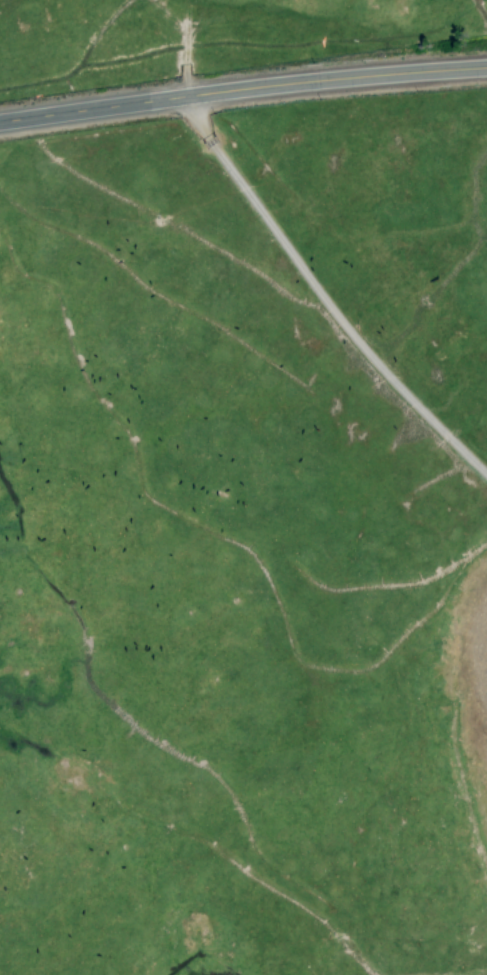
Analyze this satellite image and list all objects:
road: (242, 83)
road: (318, 297)

